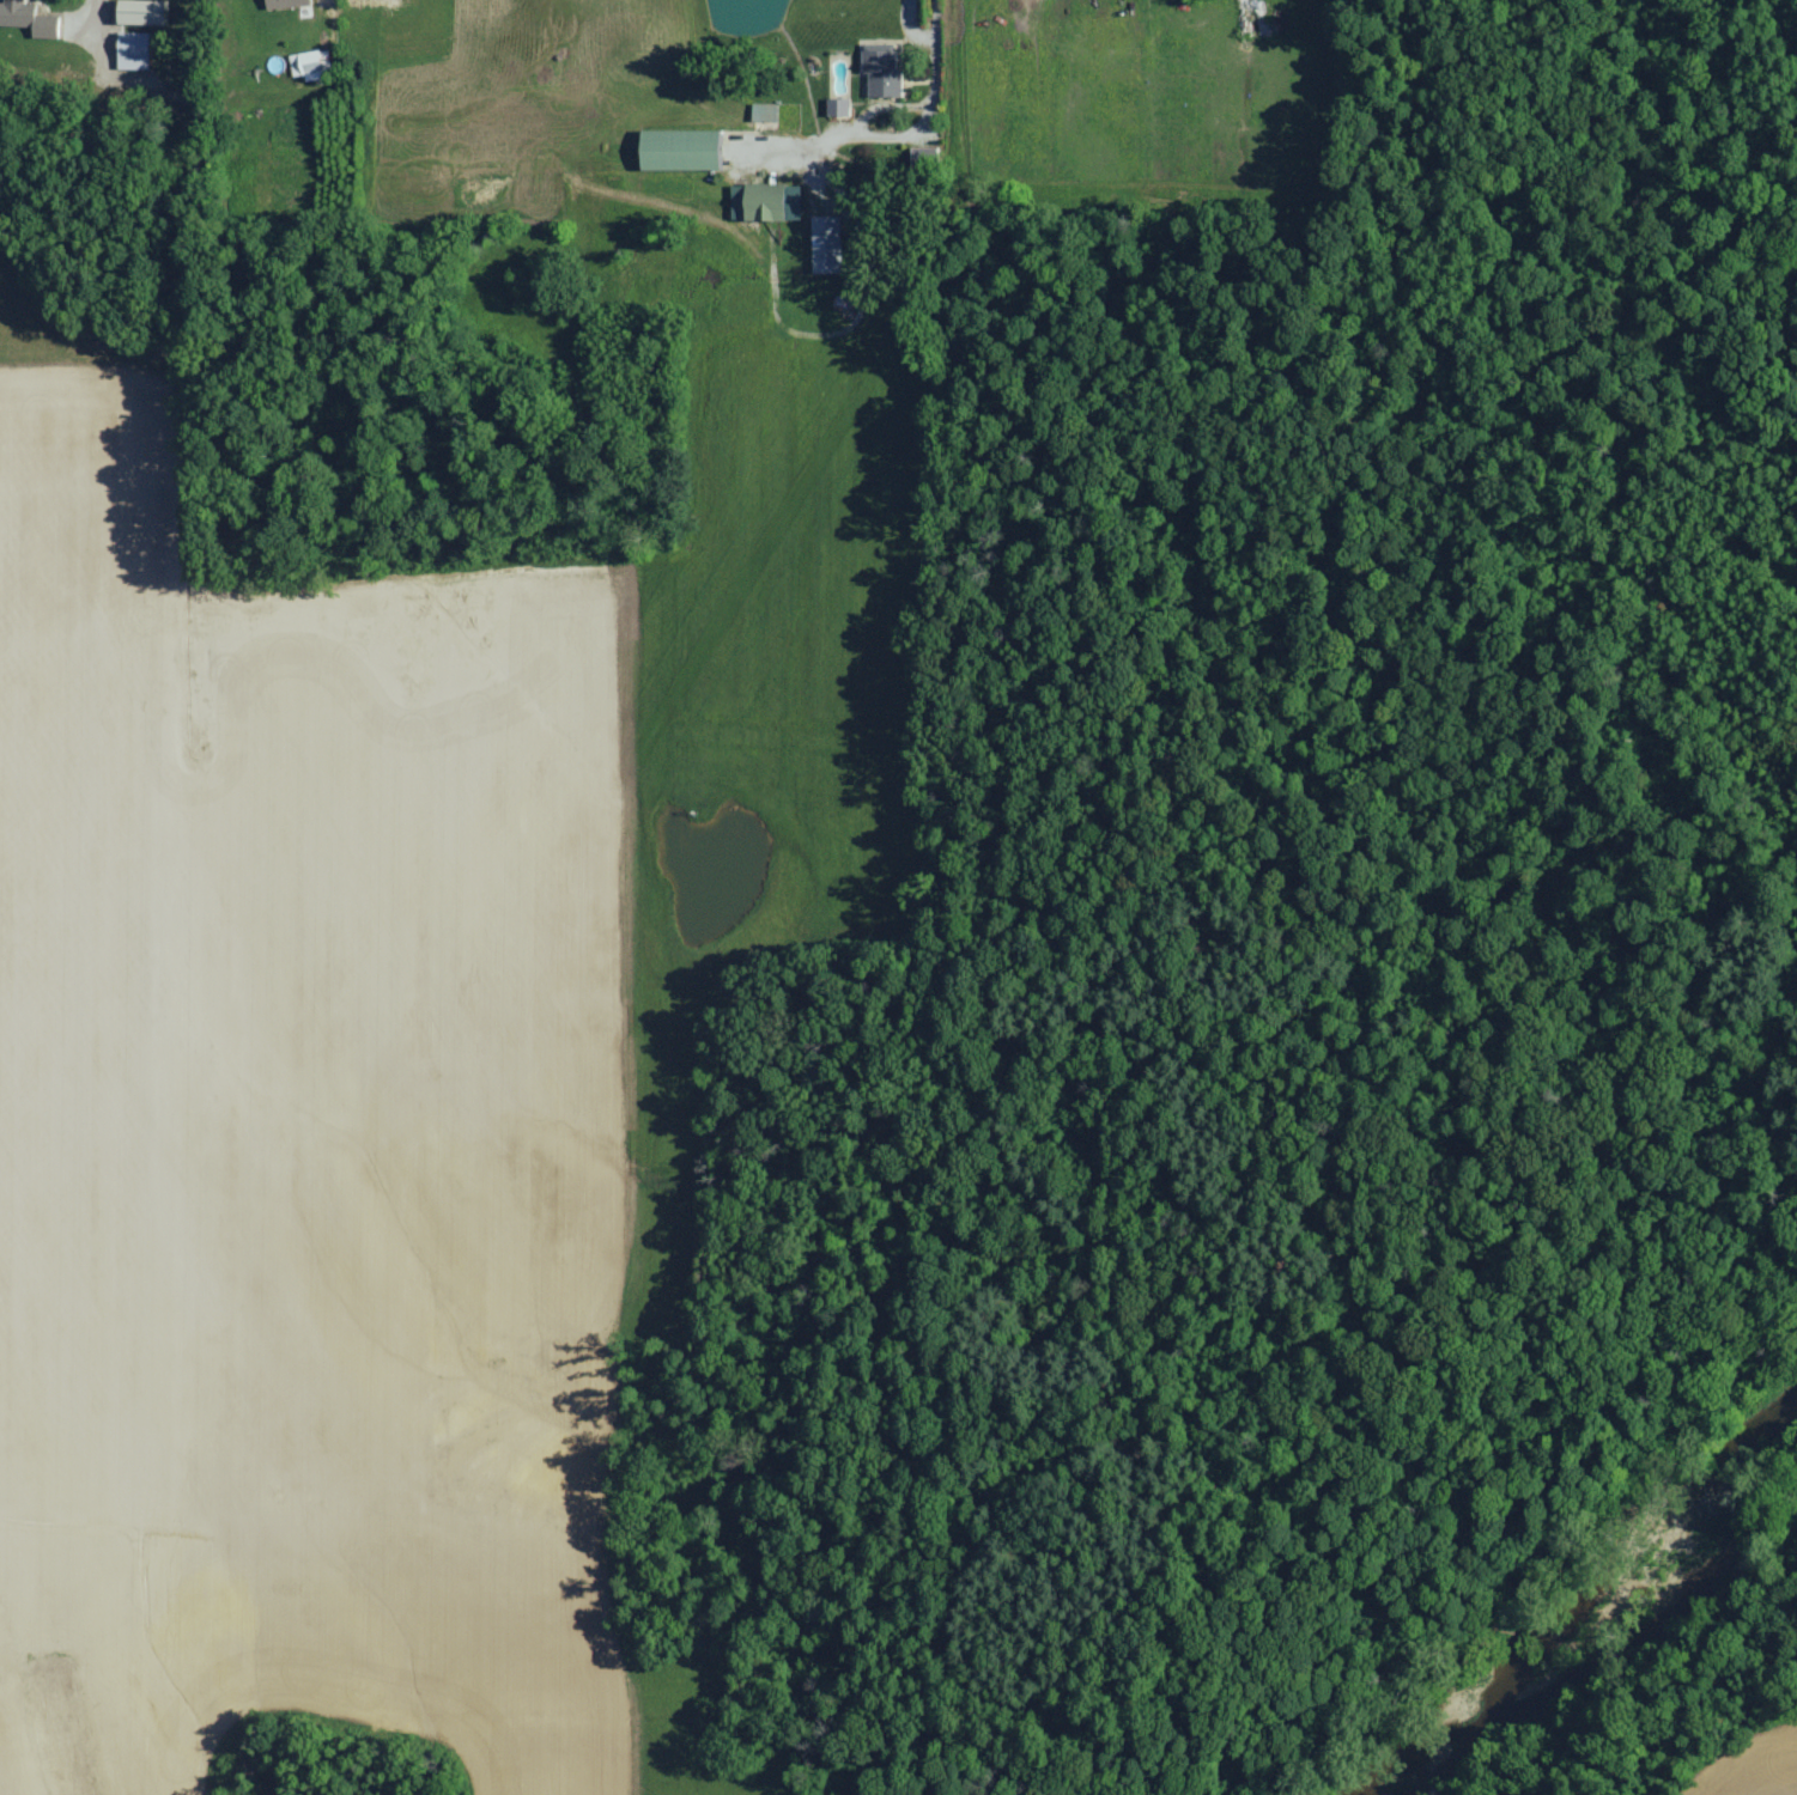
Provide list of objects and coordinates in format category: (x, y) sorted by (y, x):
building: (287, 4)
building: (142, 12)
building: (29, 19)
building: (134, 50)
building: (311, 65)
building: (882, 71)
road: (937, 83)
building: (839, 108)
building: (765, 112)
building: (682, 151)
building: (925, 158)
building: (767, 202)
building: (828, 245)

